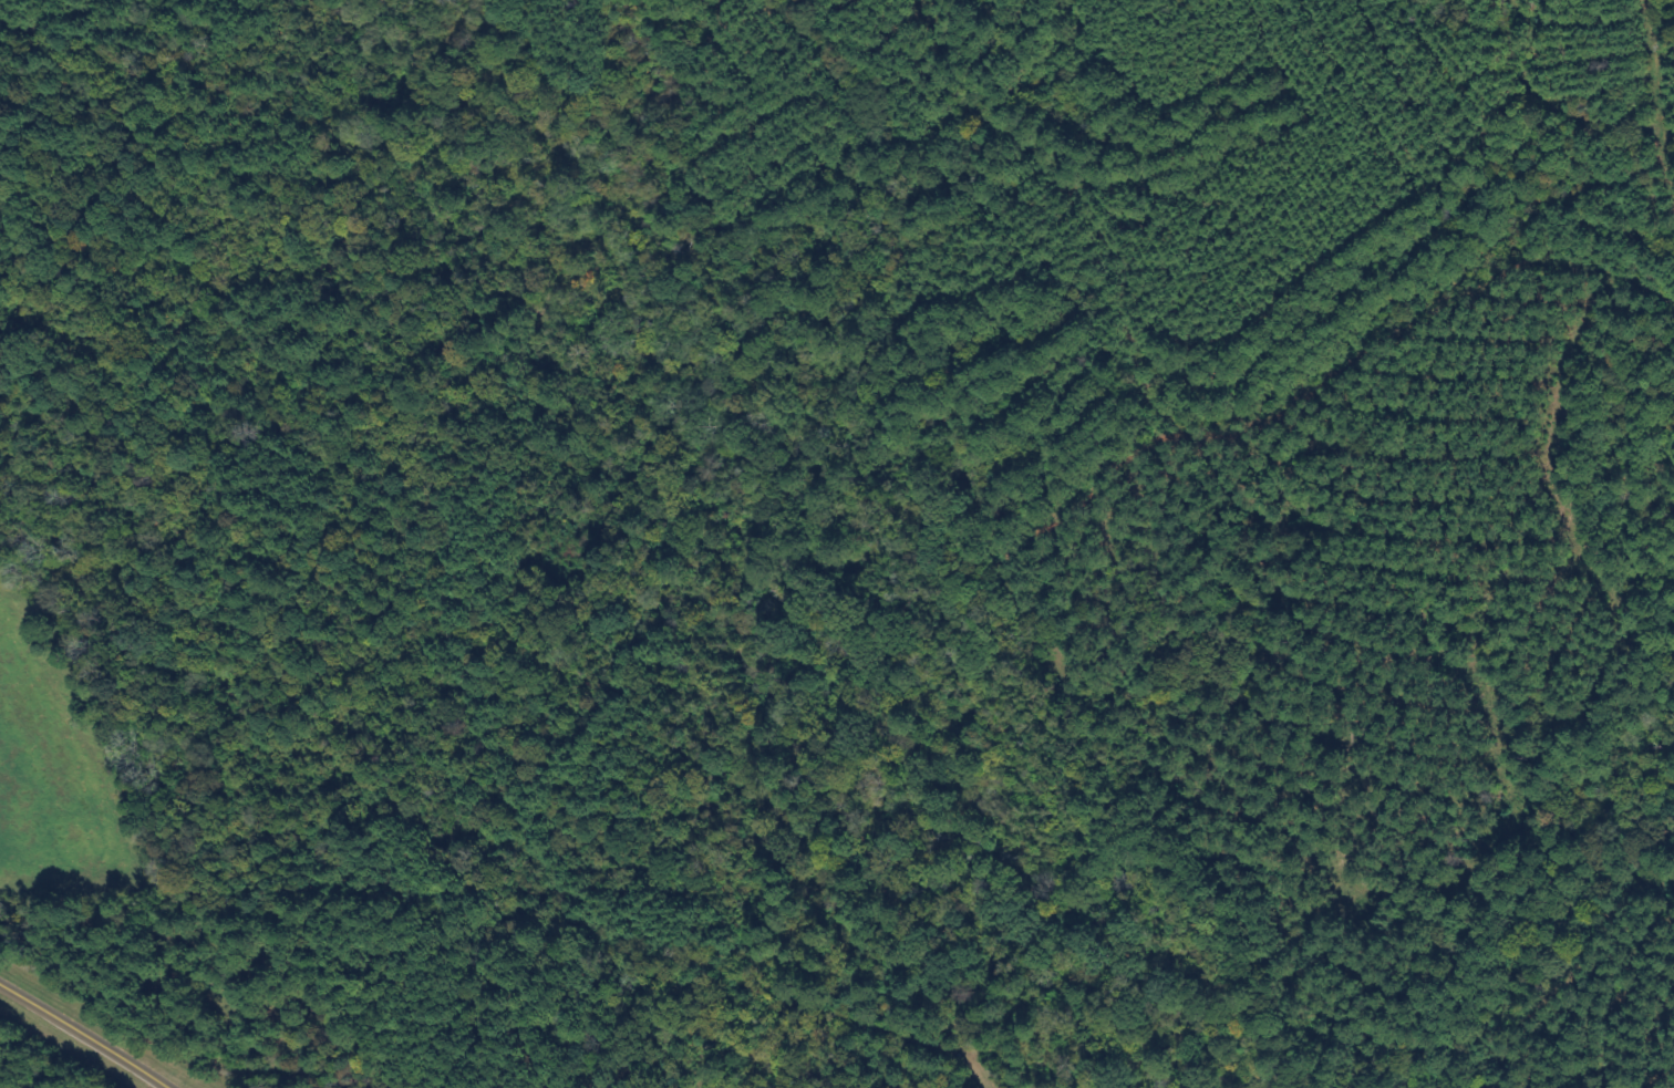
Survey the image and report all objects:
road: (76, 1039)

